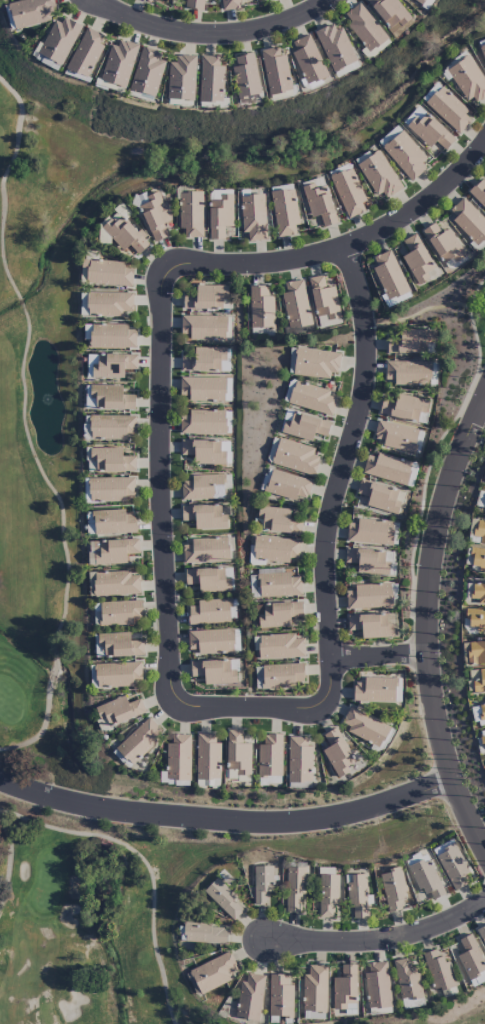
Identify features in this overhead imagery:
building: (148, 0)
building: (419, 1)
building: (425, 3)
building: (194, 4)
building: (230, 4)
building: (30, 12)
building: (391, 15)
building: (365, 28)
road: (209, 32)
building: (59, 40)
building: (482, 43)
building: (335, 47)
building: (85, 52)
building: (483, 52)
building: (308, 60)
building: (47, 62)
building: (119, 63)
building: (346, 69)
building: (276, 71)
building: (147, 72)
building: (246, 75)
building: (181, 78)
building: (211, 80)
building: (468, 80)
building: (449, 110)
building: (427, 129)
building: (388, 136)
building: (405, 155)
building: (380, 176)
building: (348, 193)
building: (478, 193)
building: (318, 201)
building: (284, 212)
building: (191, 214)
building: (155, 216)
building: (219, 216)
building: (253, 217)
building: (468, 221)
building: (124, 237)
building: (443, 243)
road: (342, 251)
building: (416, 259)
building: (106, 271)
building: (389, 276)
building: (206, 297)
building: (323, 298)
building: (109, 304)
building: (296, 304)
building: (261, 308)
building: (204, 328)
building: (301, 329)
building: (261, 331)
building: (112, 336)
building: (410, 341)
building: (206, 360)
building: (315, 363)
building: (110, 365)
building: (408, 372)
building: (203, 389)
building: (111, 398)
building: (312, 398)
park: (50, 408)
building: (404, 408)
building: (203, 422)
building: (303, 426)
building: (111, 427)
building: (395, 437)
building: (207, 451)
building: (295, 457)
building: (110, 460)
building: (387, 468)
road: (340, 477)
building: (484, 482)
building: (287, 486)
road: (164, 487)
building: (203, 487)
building: (111, 490)
building: (379, 497)
building: (481, 501)
building: (204, 517)
building: (278, 521)
building: (113, 522)
building: (480, 531)
building: (370, 532)
building: (275, 549)
building: (114, 551)
building: (206, 551)
building: (477, 558)
building: (370, 561)
building: (209, 579)
building: (113, 583)
building: (278, 585)
building: (253, 586)
building: (478, 593)
building: (369, 596)
building: (209, 612)
building: (120, 613)
building: (277, 614)
building: (475, 620)
road: (430, 623)
building: (372, 625)
building: (211, 641)
building: (120, 645)
building: (280, 647)
building: (475, 652)
road: (381, 657)
building: (215, 671)
building: (117, 674)
building: (281, 675)
building: (479, 682)
building: (377, 690)
road: (250, 705)
building: (119, 710)
building: (479, 714)
building: (364, 727)
building: (140, 740)
building: (483, 743)
building: (237, 753)
building: (337, 753)
building: (270, 756)
building: (207, 757)
building: (178, 758)
building: (299, 760)
building: (170, 780)
building: (207, 784)
road: (227, 822)
building: (452, 865)
building: (425, 875)
building: (262, 883)
building: (294, 888)
building: (394, 890)
building: (326, 895)
building: (356, 896)
building: (223, 898)
park: (87, 924)
building: (203, 933)
building: (481, 934)
road: (379, 936)
building: (472, 961)
building: (438, 971)
building: (213, 973)
building: (407, 980)
building: (376, 985)
building: (345, 987)
building: (315, 989)
building: (279, 996)
building: (250, 998)

